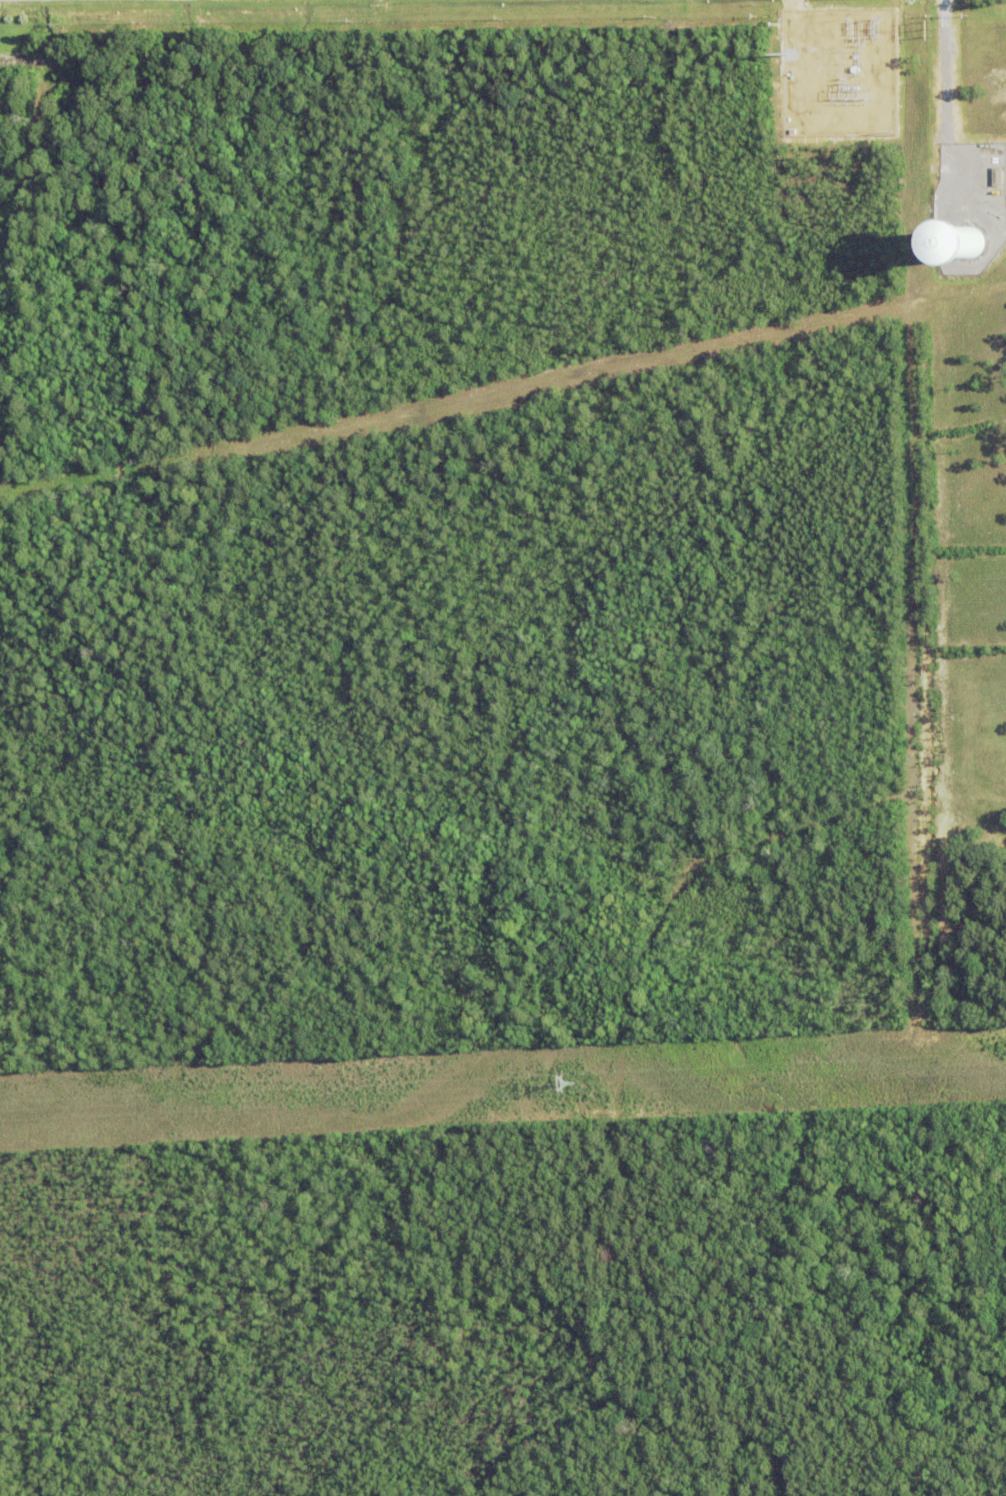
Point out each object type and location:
building: (7, 65)
power substation: (838, 71)
road: (944, 104)
building: (972, 240)
water tower: (967, 243)
power tower: (576, 1085)

